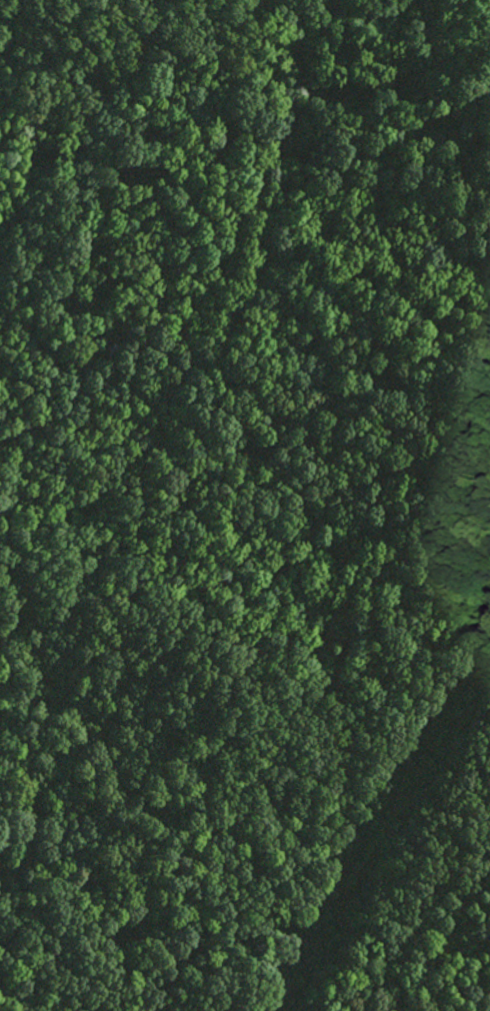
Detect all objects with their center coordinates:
road: (163, 285)
road: (16, 746)

